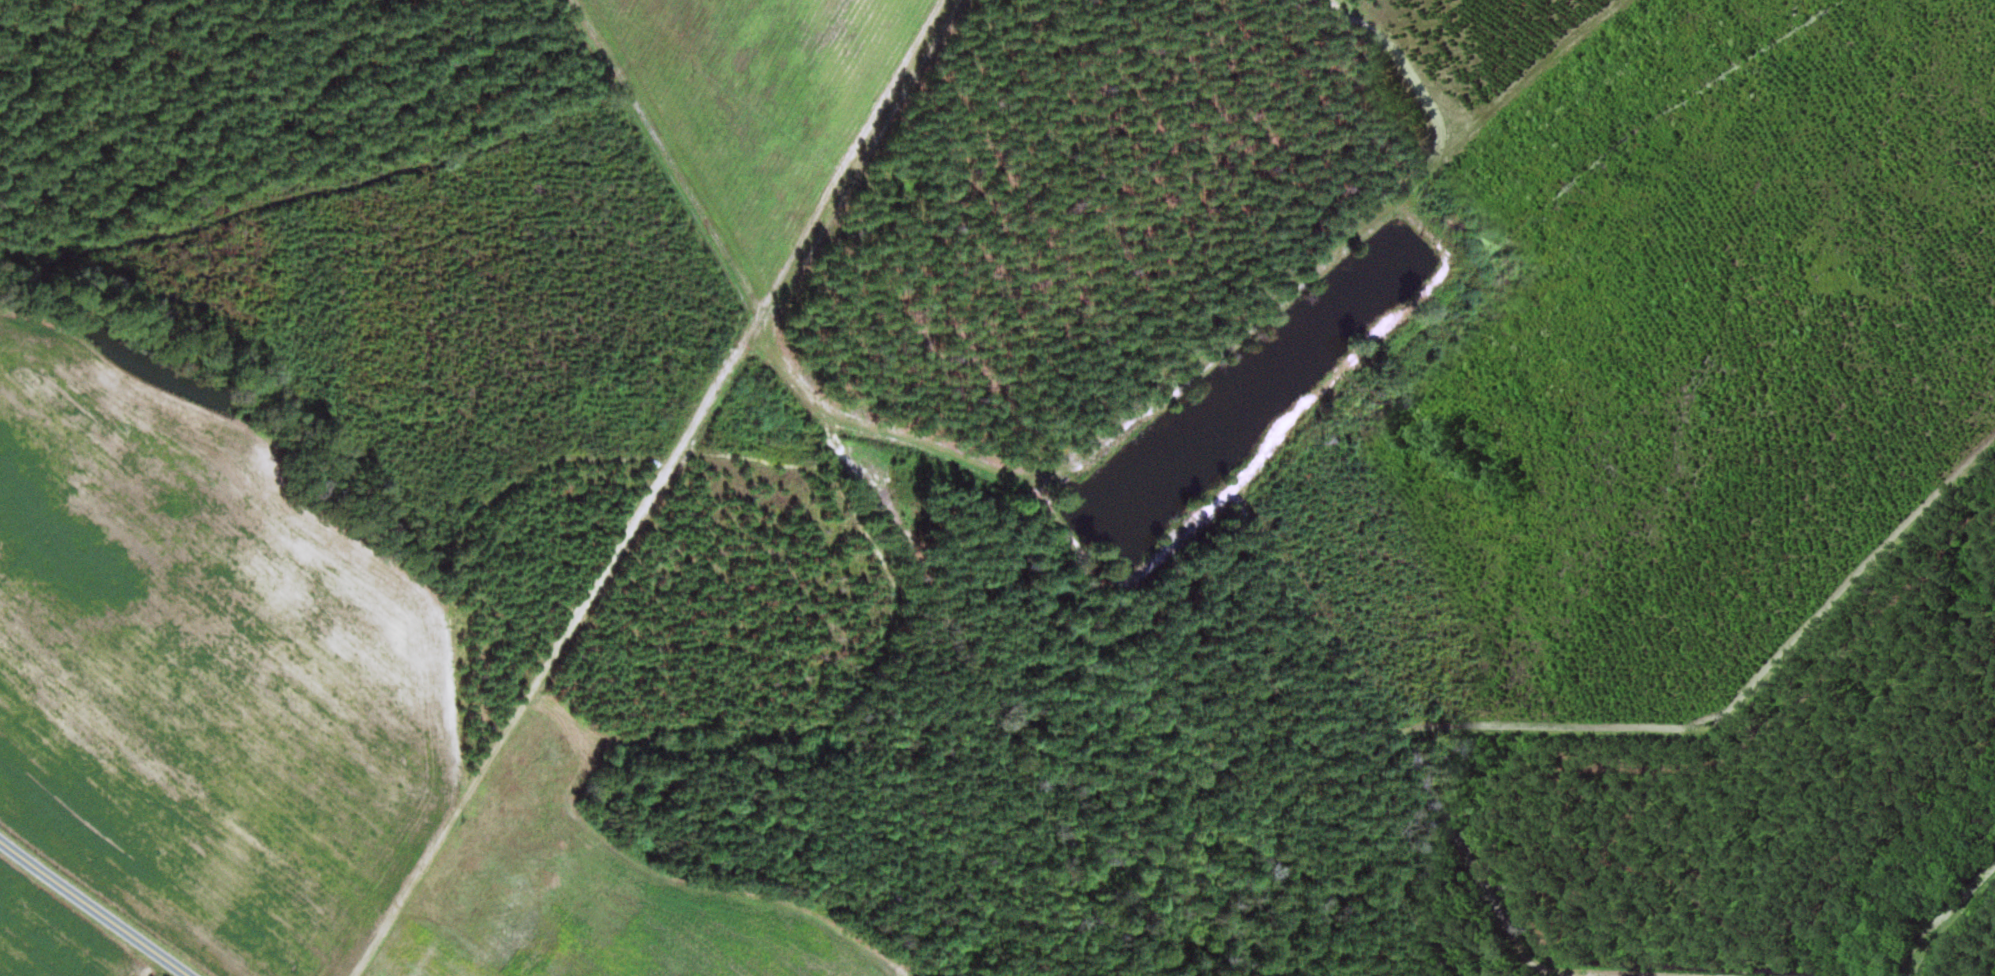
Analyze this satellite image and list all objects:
road: (573, 473)
road: (98, 902)

